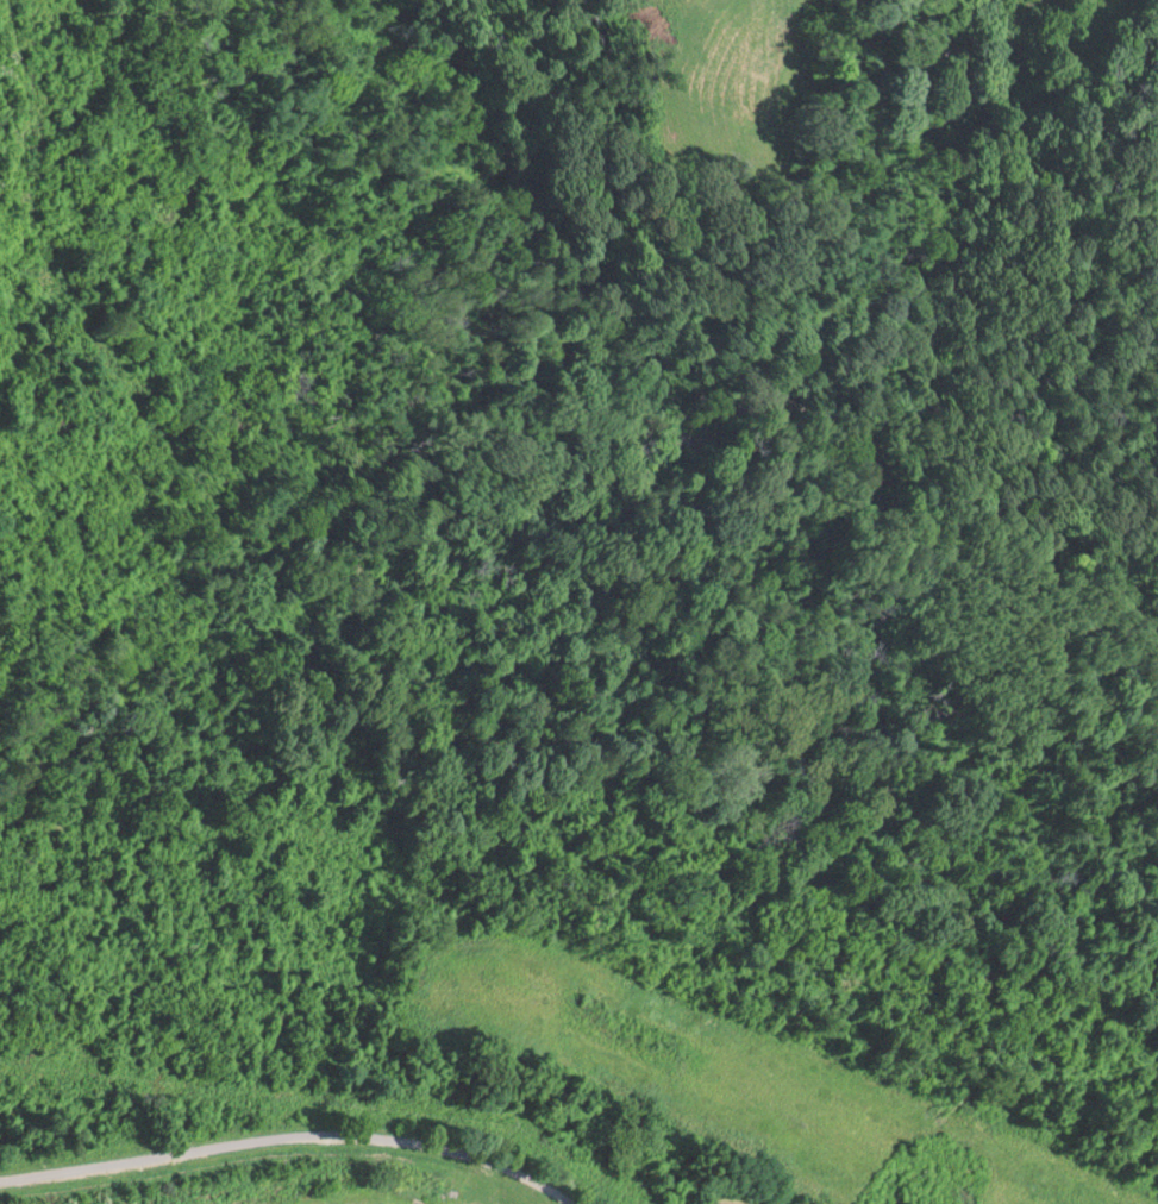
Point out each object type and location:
road: (294, 1135)

